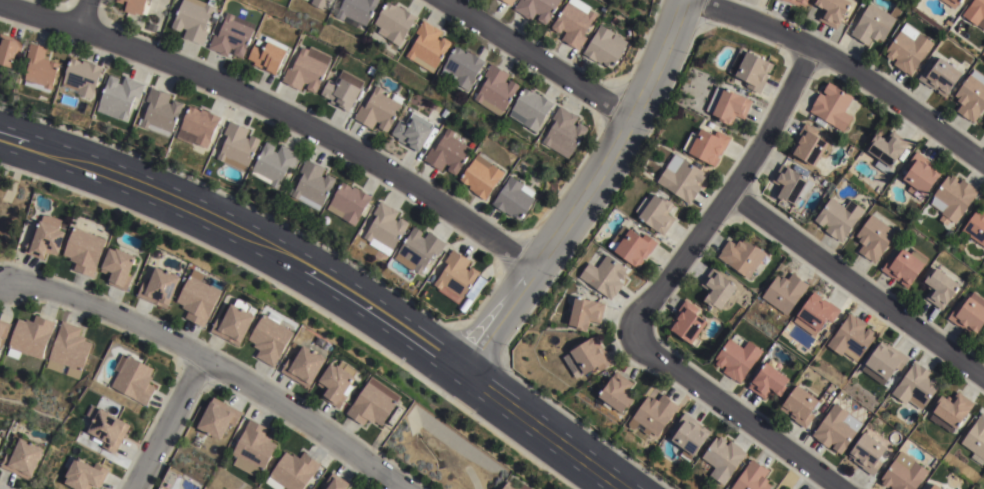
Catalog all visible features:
building: (118, 1)
building: (508, 1)
building: (797, 1)
building: (319, 3)
building: (951, 3)
building: (136, 6)
building: (536, 8)
building: (357, 9)
building: (831, 10)
building: (975, 12)
road: (81, 14)
building: (192, 19)
building: (394, 21)
building: (574, 21)
building: (873, 23)
building: (232, 35)
building: (428, 46)
building: (604, 46)
building: (8, 48)
building: (908, 48)
building: (268, 54)
road: (535, 58)
building: (461, 67)
road: (845, 67)
building: (39, 68)
building: (751, 69)
building: (372, 70)
building: (305, 71)
building: (939, 76)
building: (81, 77)
building: (343, 89)
building: (496, 89)
building: (971, 95)
building: (118, 96)
building: (728, 104)
building: (832, 106)
building: (379, 109)
building: (531, 109)
road: (277, 110)
building: (160, 112)
building: (197, 126)
building: (983, 127)
building: (415, 132)
building: (564, 132)
building: (706, 145)
building: (807, 145)
building: (237, 146)
building: (886, 150)
building: (448, 152)
building: (274, 163)
building: (920, 175)
building: (481, 176)
building: (681, 178)
building: (790, 184)
building: (312, 185)
road: (733, 192)
road: (583, 194)
building: (954, 197)
building: (514, 199)
building: (348, 203)
building: (657, 214)
building: (838, 217)
building: (385, 226)
building: (975, 227)
building: (46, 238)
building: (873, 238)
building: (634, 248)
building: (85, 250)
building: (418, 250)
building: (741, 256)
building: (904, 266)
building: (119, 268)
building: (604, 276)
building: (456, 277)
road: (327, 284)
building: (159, 288)
building: (717, 289)
building: (939, 289)
road: (857, 290)
building: (785, 292)
building: (197, 298)
building: (584, 313)
building: (969, 315)
building: (816, 316)
building: (234, 323)
building: (686, 323)
building: (3, 332)
building: (30, 337)
building: (270, 338)
building: (852, 338)
building: (69, 351)
building: (590, 357)
building: (737, 359)
building: (885, 361)
road: (215, 364)
building: (304, 367)
building: (134, 380)
building: (769, 382)
building: (337, 383)
building: (915, 387)
building: (615, 394)
building: (373, 404)
building: (800, 407)
road: (734, 411)
building: (951, 412)
building: (653, 415)
building: (217, 419)
road: (167, 422)
building: (107, 429)
building: (836, 429)
building: (975, 438)
building: (690, 440)
building: (0, 444)
building: (253, 447)
building: (867, 454)
building: (24, 457)
building: (723, 459)
building: (292, 472)
building: (903, 473)
building: (83, 475)
building: (752, 478)
building: (336, 483)
building: (509, 486)
building: (524, 487)
building: (933, 488)

